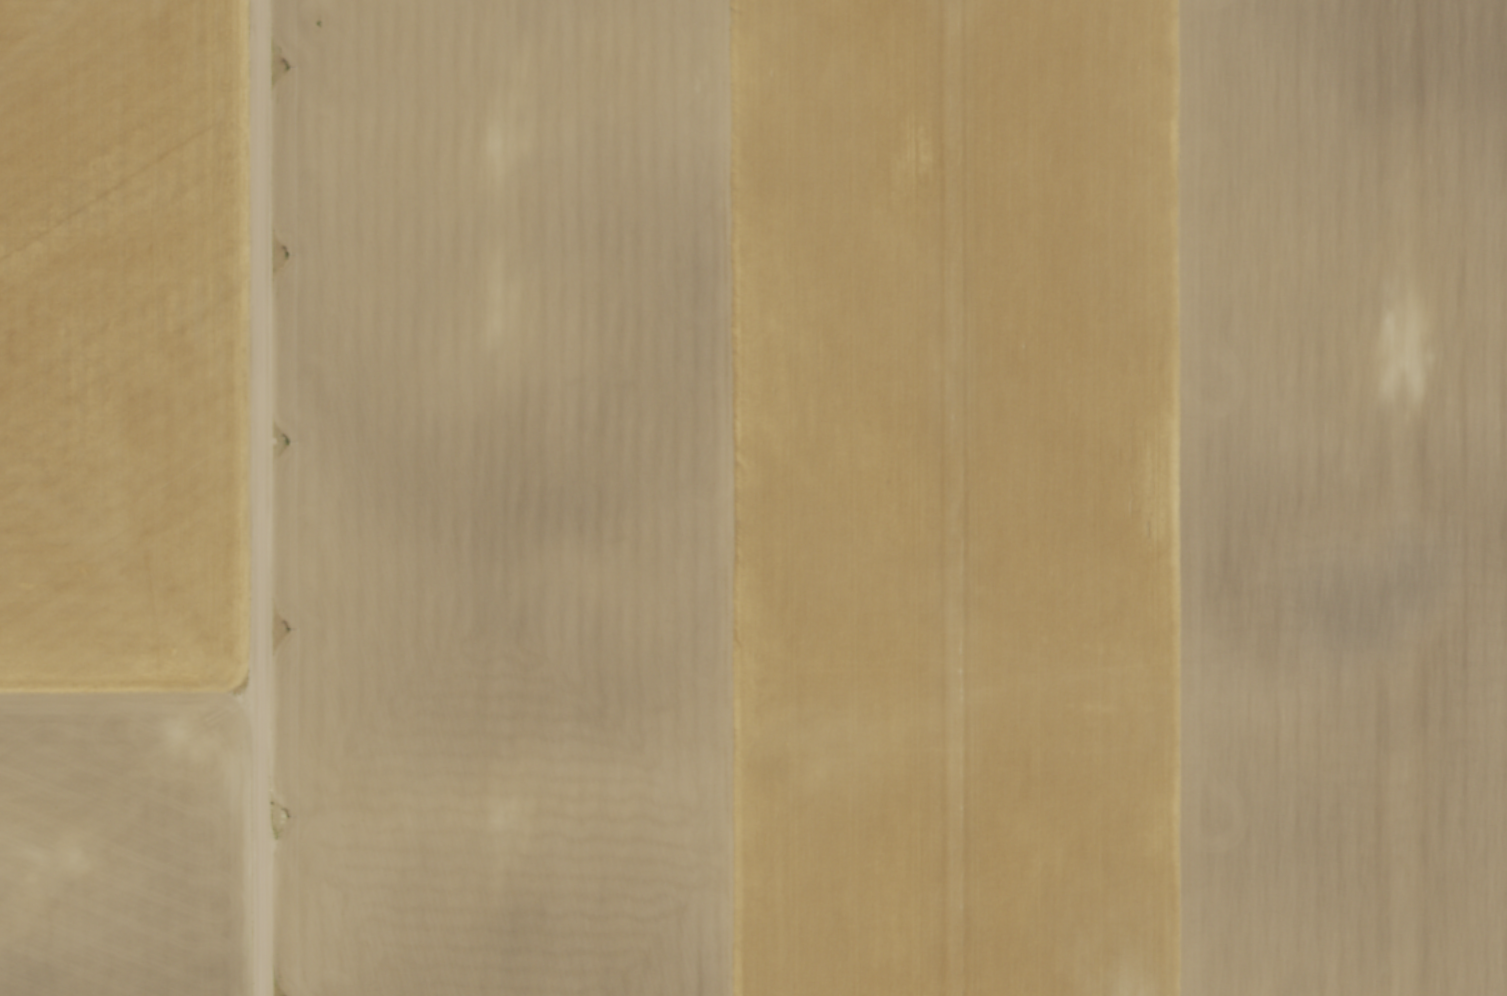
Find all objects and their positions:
crop: (892, 497)
crop: (125, 498)
road: (264, 498)

